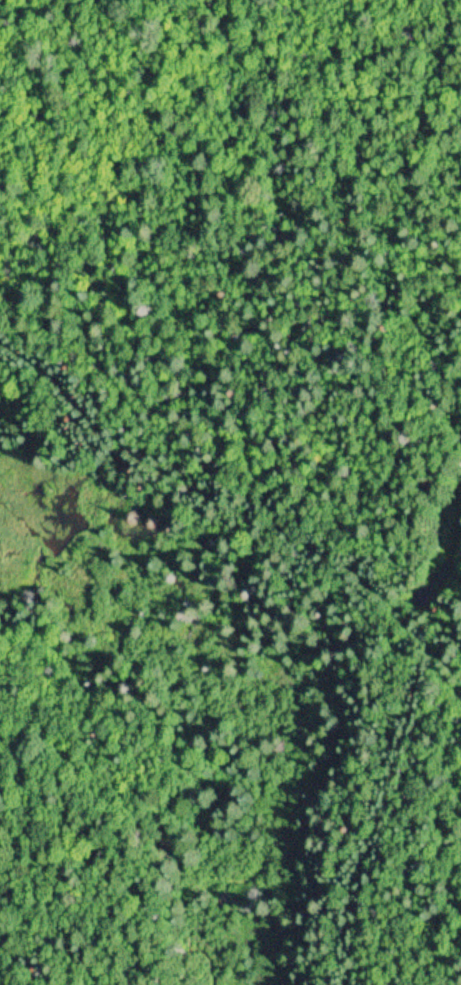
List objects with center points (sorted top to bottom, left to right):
road: (336, 559)
road: (409, 658)

